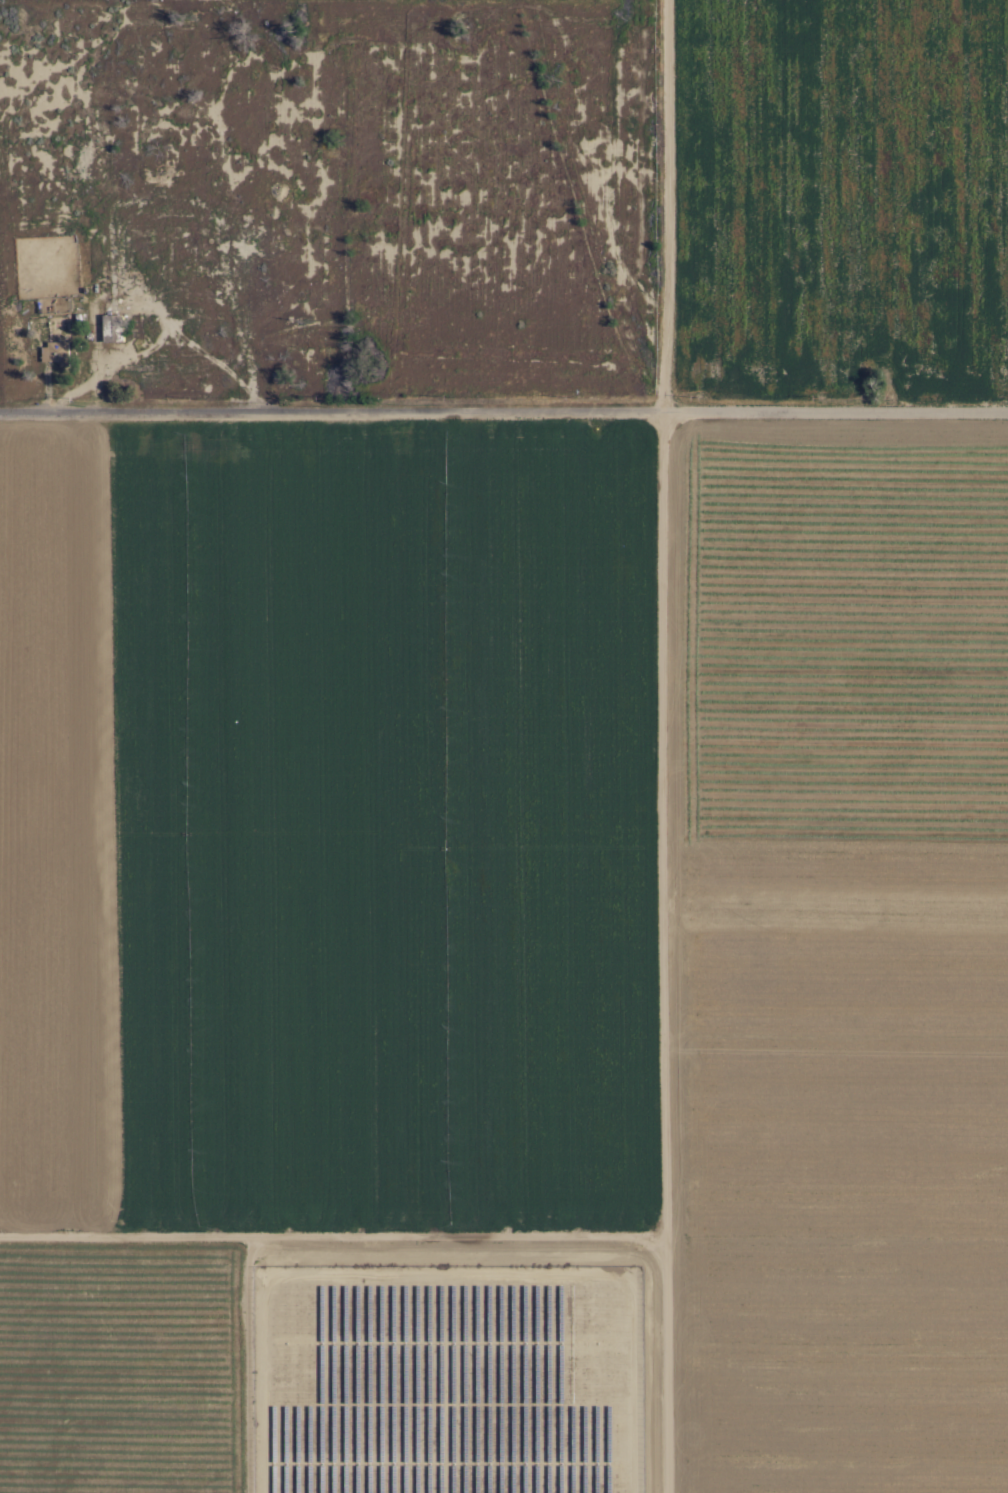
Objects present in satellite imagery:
road: (667, 209)
building: (113, 328)
building: (56, 352)
road: (504, 419)
crop: (541, 862)
solar farm: (447, 1379)

